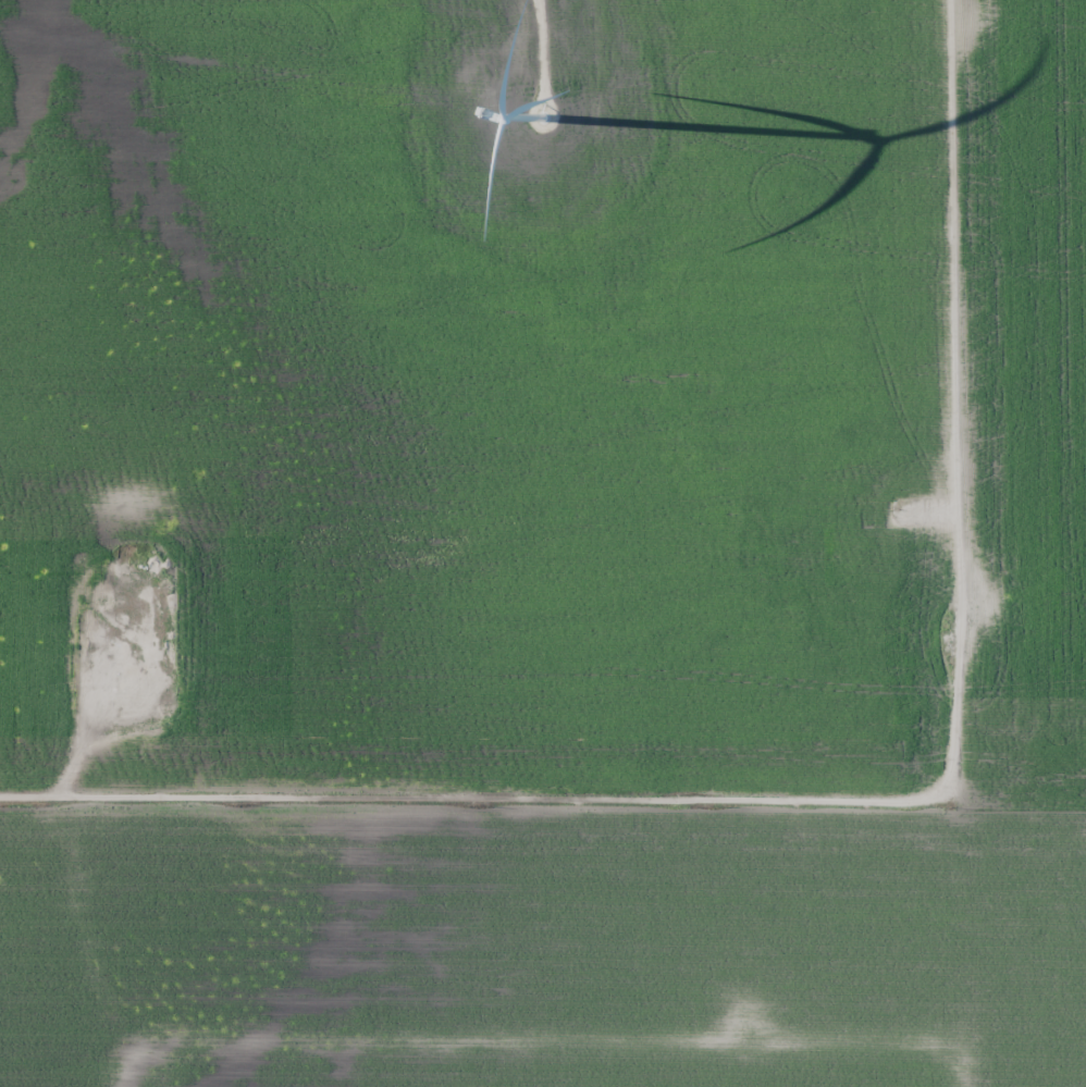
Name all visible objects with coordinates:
wind turbine: (546, 123)
road: (971, 394)
road: (482, 793)

